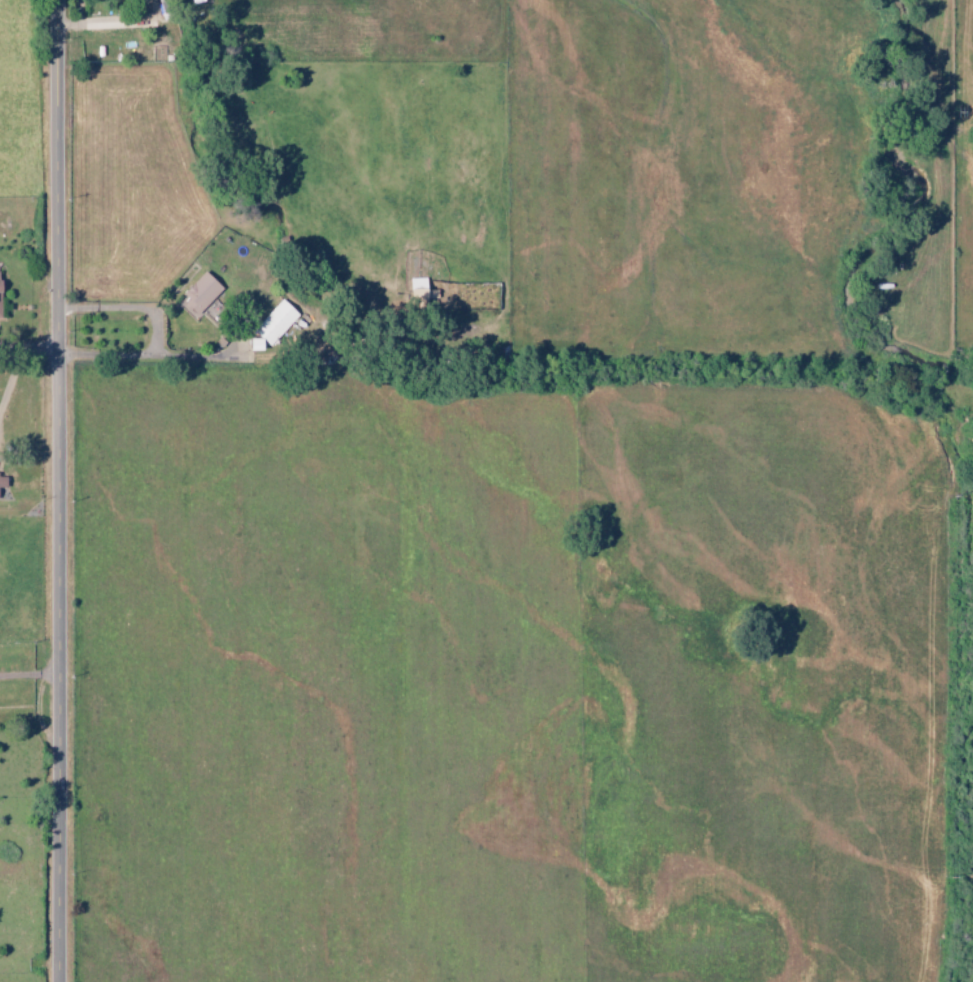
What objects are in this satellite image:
building: (1, 281)
building: (203, 293)
building: (1, 309)
building: (275, 325)
road: (128, 354)
road: (14, 386)
building: (4, 482)
road: (63, 490)

